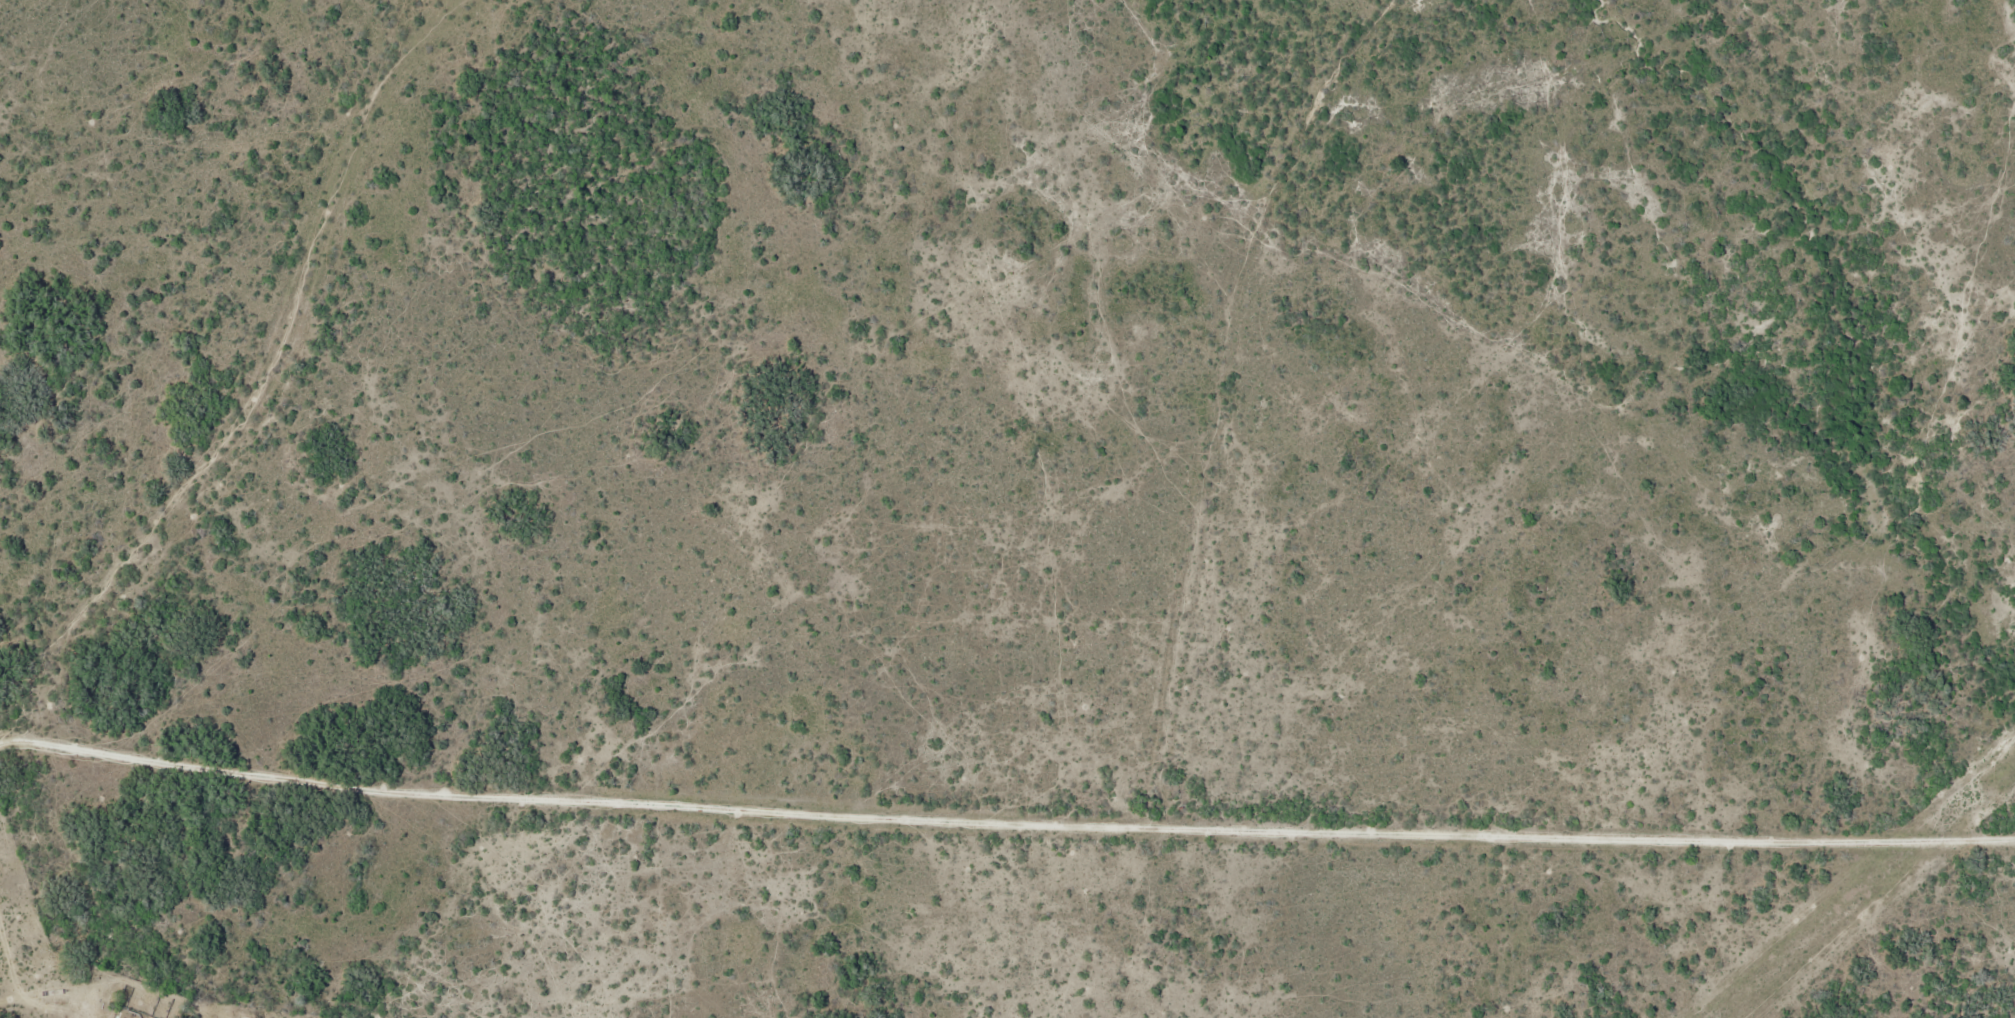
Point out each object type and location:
road: (259, 392)
road: (1223, 394)
road: (746, 802)
road: (1754, 860)
road: (1492, 937)

